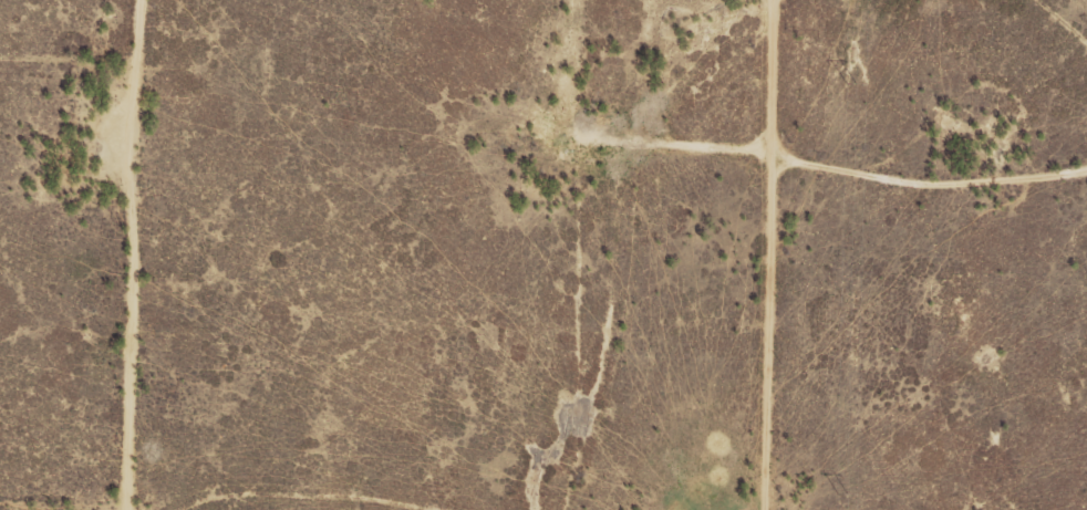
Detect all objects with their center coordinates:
power tower: (851, 84)
road: (81, 85)
road: (973, 177)
road: (163, 253)
road: (855, 253)
road: (645, 259)
power tower: (841, 492)

